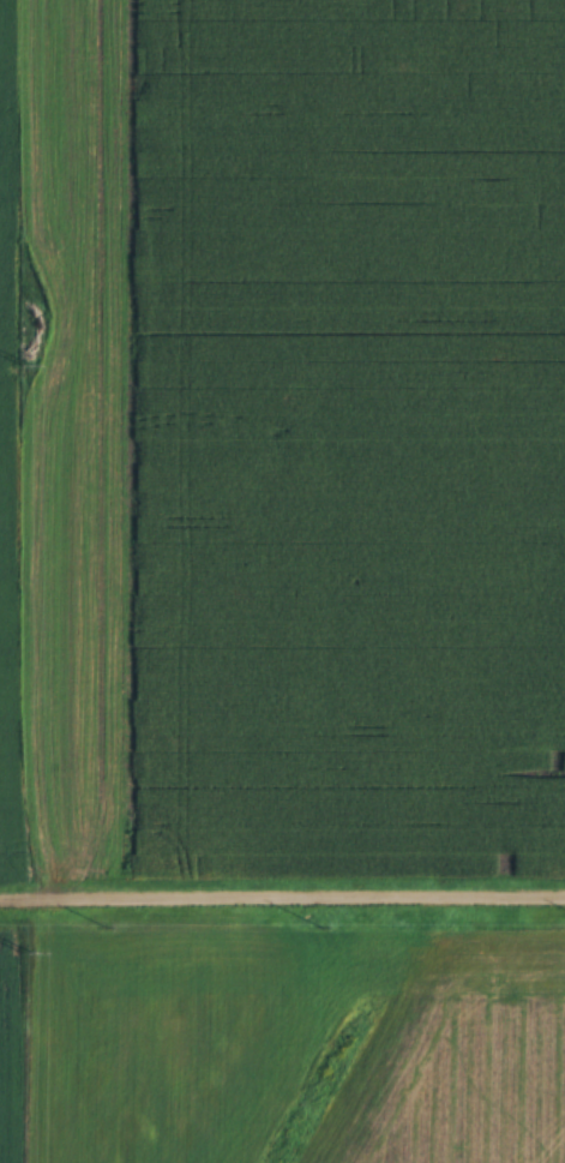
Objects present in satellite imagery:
power tower: (24, 366)
road: (282, 894)
power tower: (24, 955)

